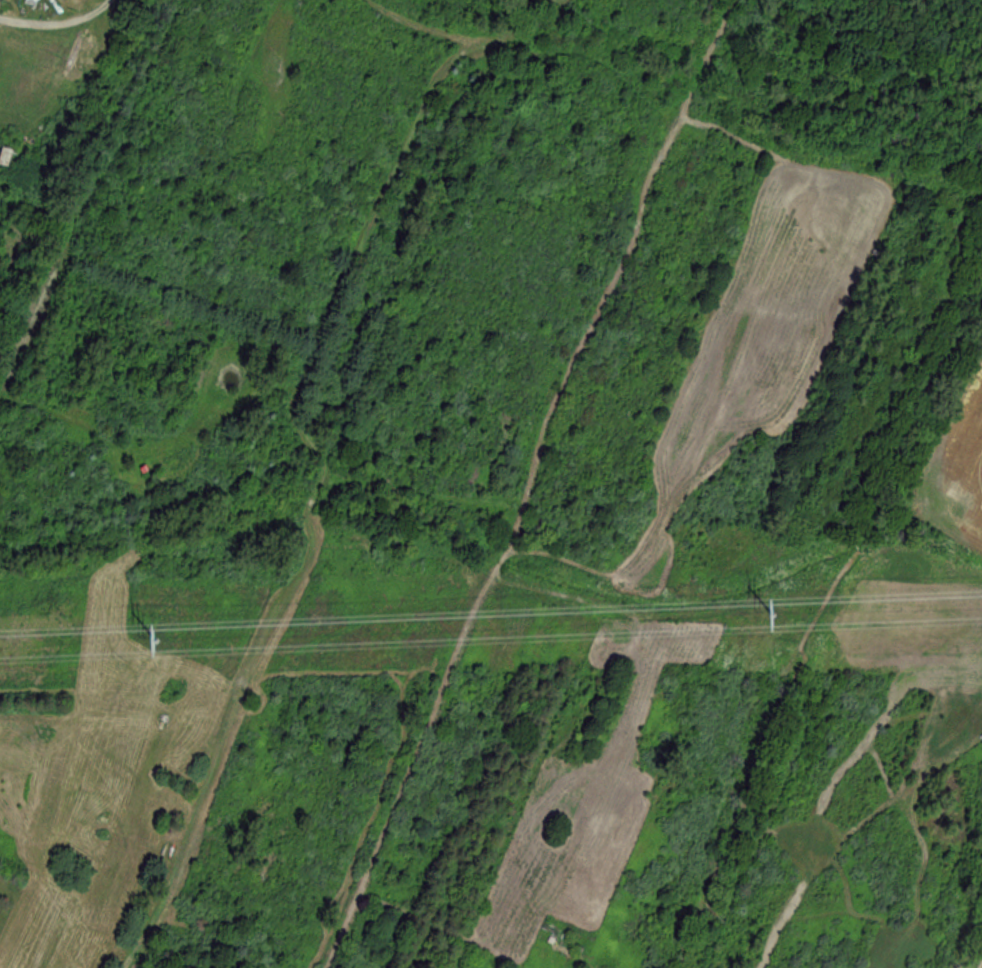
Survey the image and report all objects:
road: (61, 33)
building: (3, 156)
crop: (965, 468)
power tower: (753, 622)
power tower: (141, 645)
building: (550, 932)

